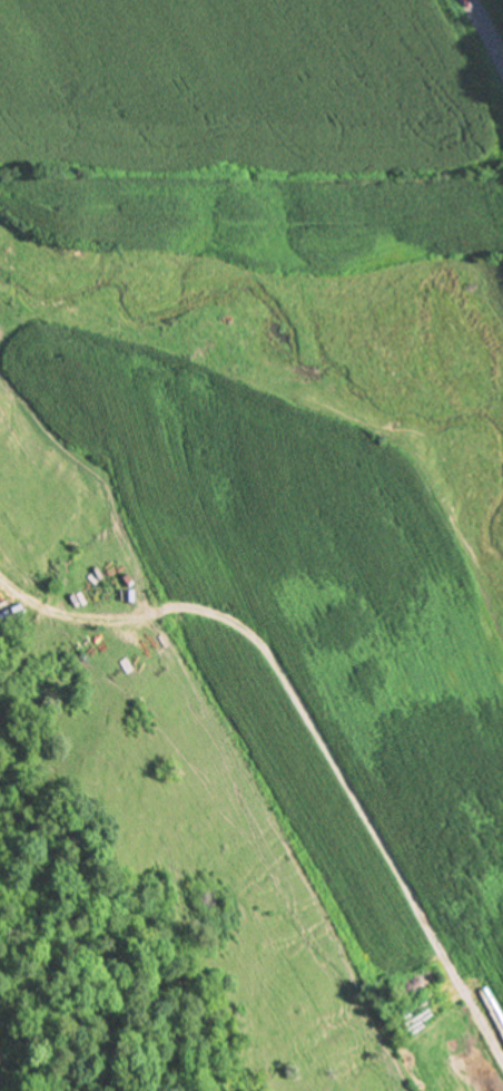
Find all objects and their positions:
road: (484, 32)

